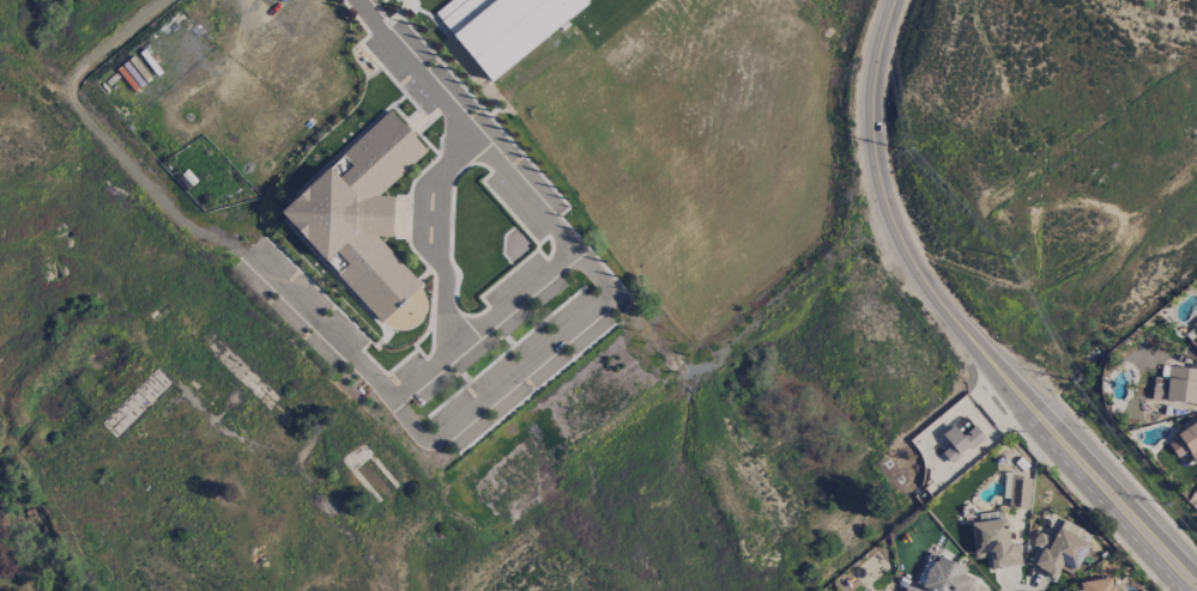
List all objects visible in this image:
building: (502, 26)
building: (358, 214)
road: (921, 263)
road: (447, 270)
road: (509, 298)
building: (1195, 324)
railway: (232, 328)
building: (1193, 342)
building: (1175, 385)
road: (419, 432)
building: (959, 441)
building: (1185, 441)
building: (1018, 493)
road: (1147, 534)
building: (993, 543)
building: (1056, 553)
building: (943, 575)
building: (1096, 585)

